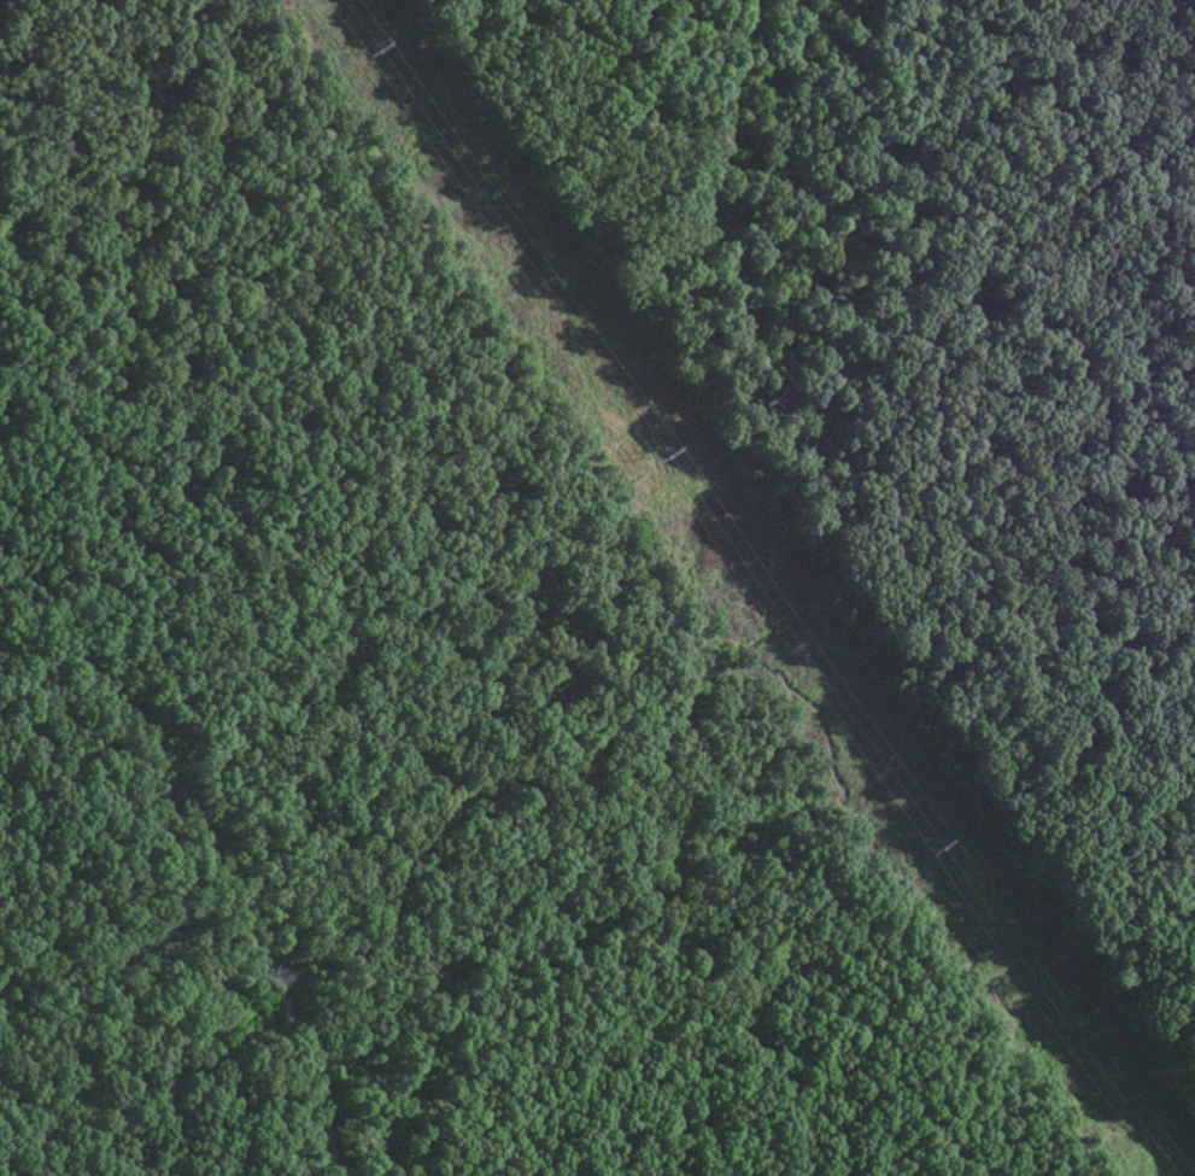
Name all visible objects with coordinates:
power tower: (361, 49)
power tower: (652, 456)
power tower: (932, 847)
road: (219, 867)

